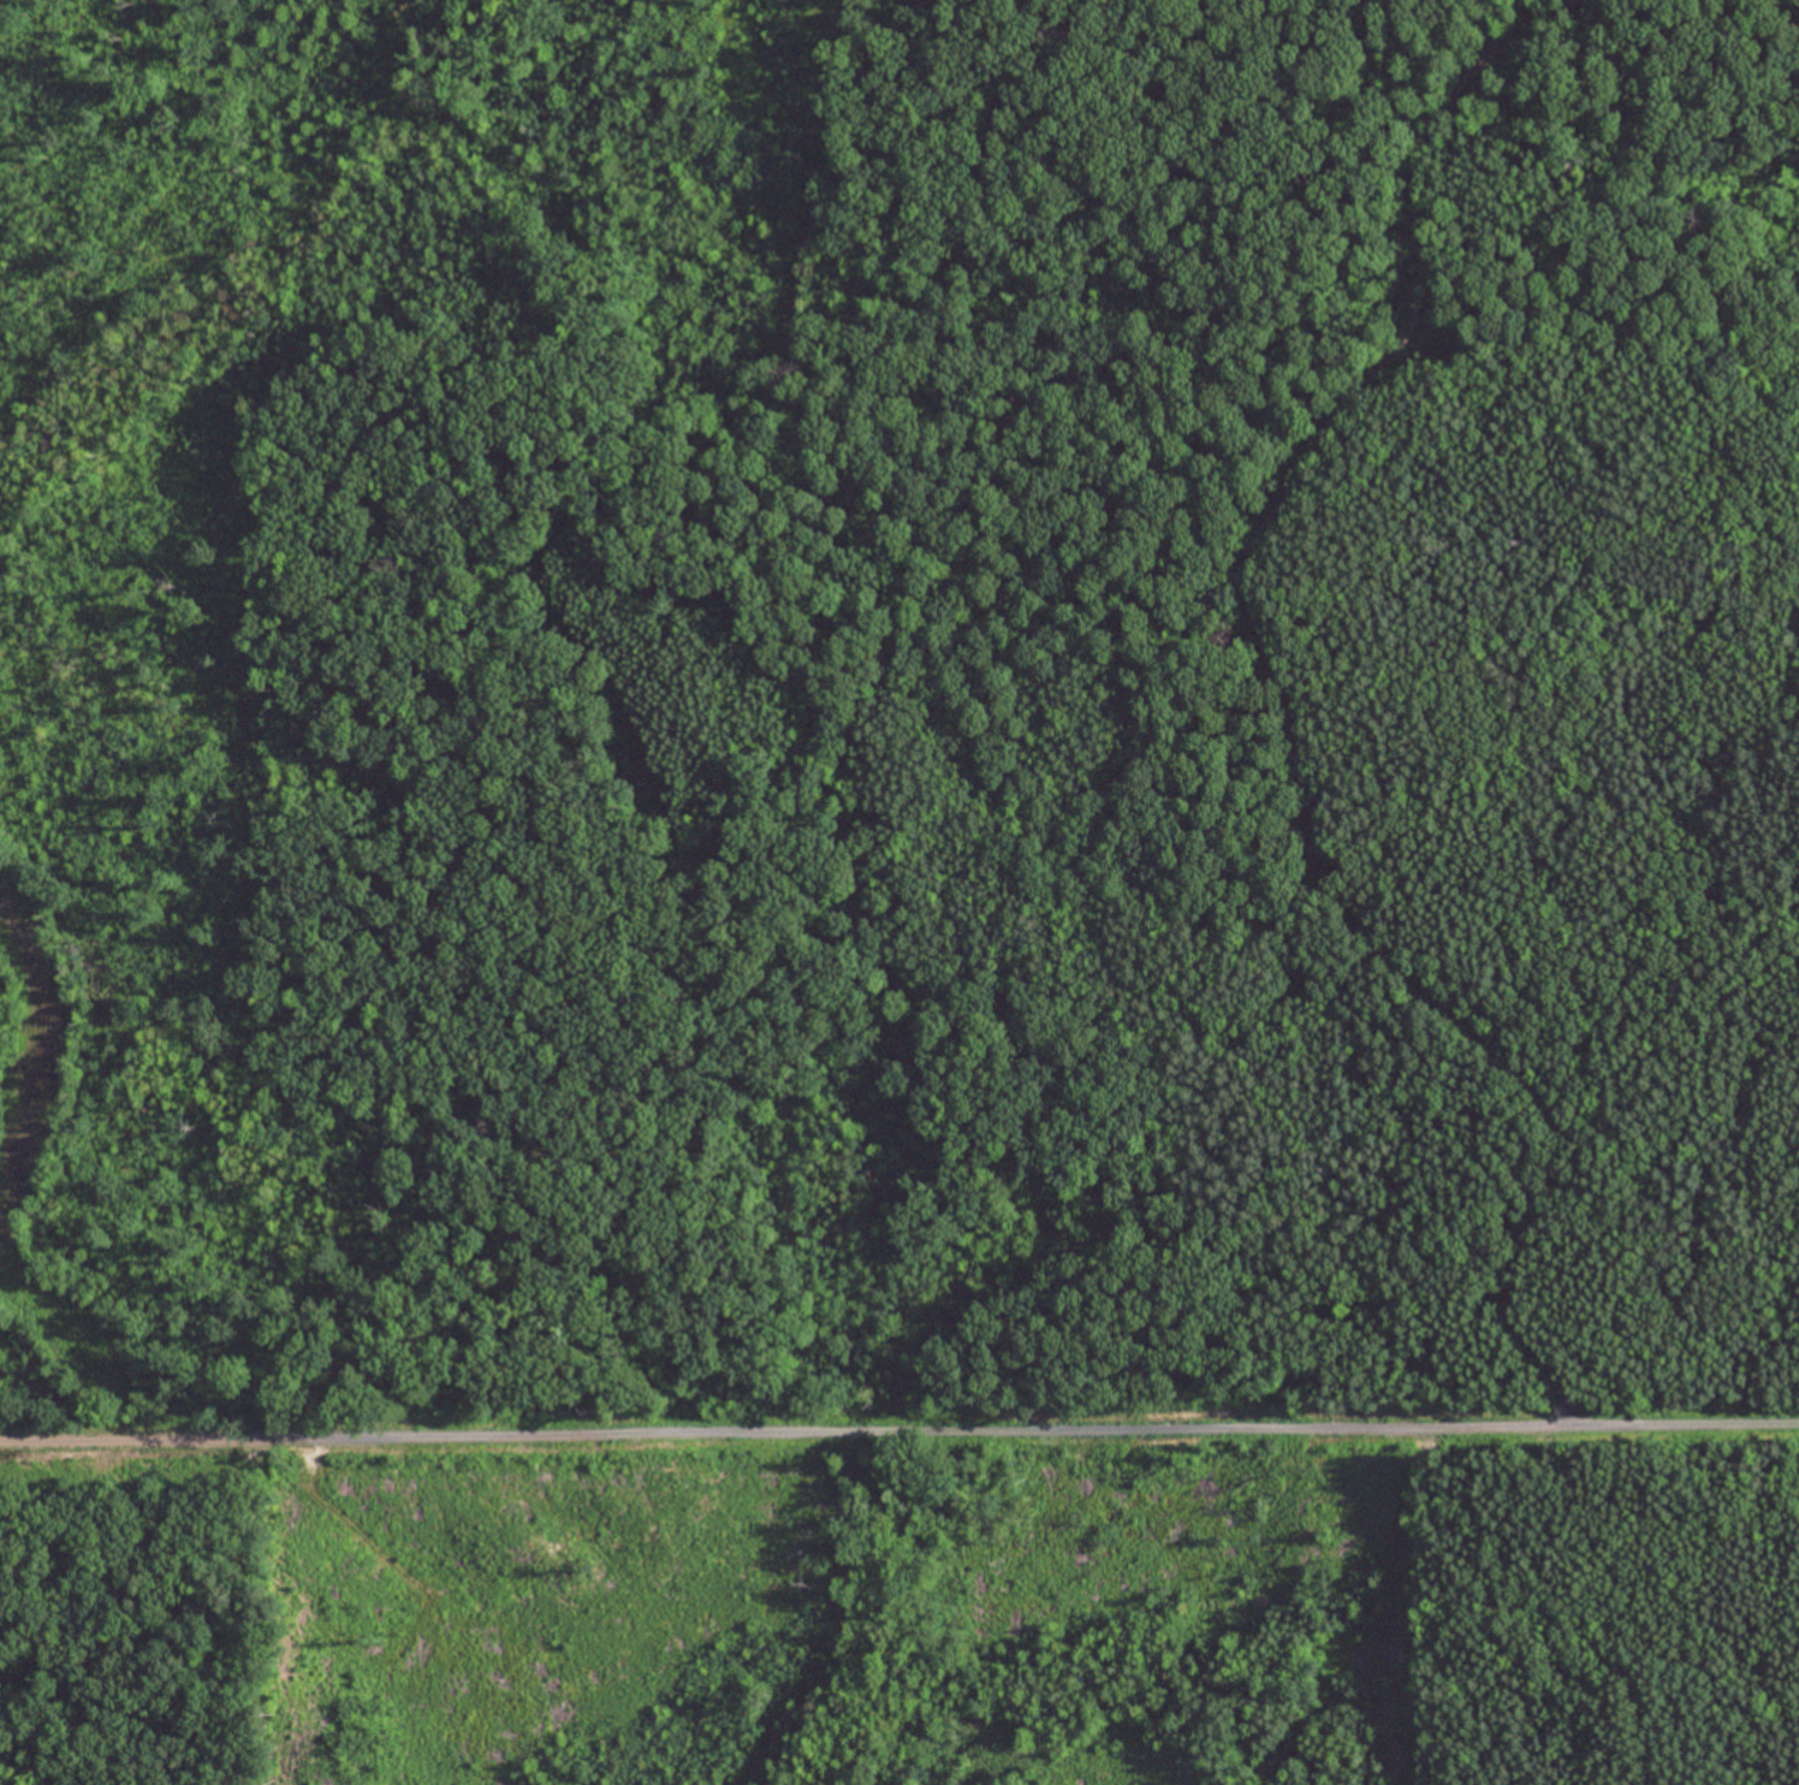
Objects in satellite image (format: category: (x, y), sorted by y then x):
road: (950, 1436)
road: (51, 1447)

